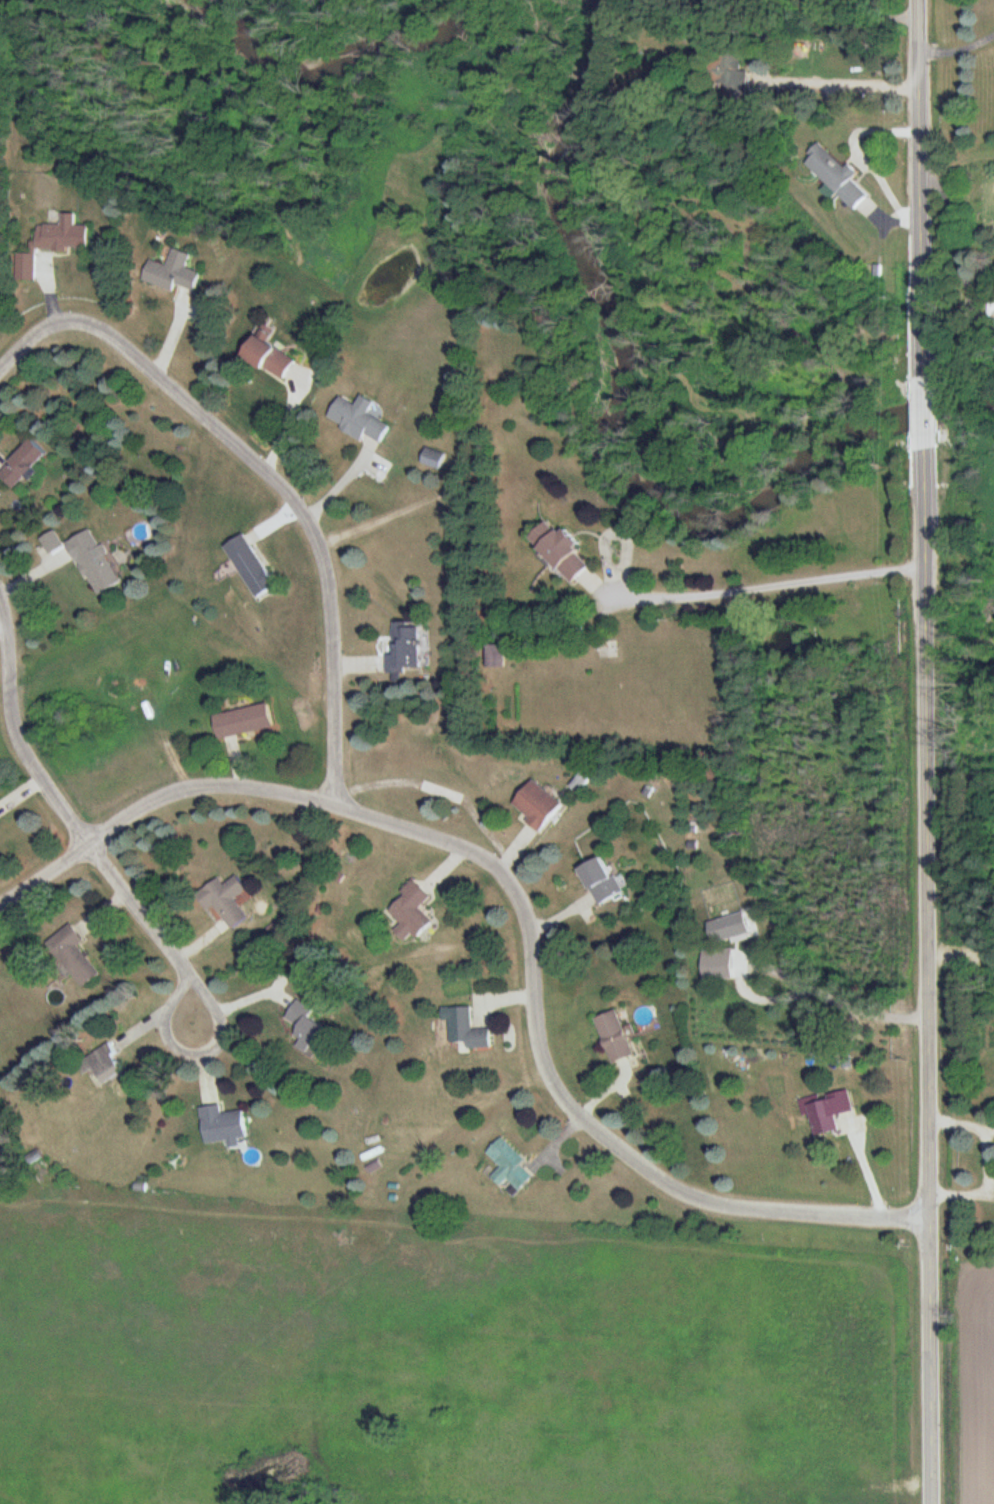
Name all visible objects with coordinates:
road: (957, 50)
building: (730, 74)
road: (835, 82)
road: (864, 157)
building: (836, 175)
building: (52, 244)
building: (171, 273)
building: (992, 311)
building: (267, 356)
building: (358, 418)
building: (433, 458)
building: (21, 464)
road: (270, 472)
building: (560, 552)
building: (93, 562)
building: (249, 566)
road: (765, 585)
building: (411, 646)
building: (496, 657)
building: (243, 719)
road: (923, 751)
road: (153, 800)
building: (537, 804)
road: (79, 827)
building: (599, 879)
building: (225, 899)
building: (410, 911)
building: (73, 954)
road: (818, 995)
building: (305, 1025)
building: (465, 1027)
building: (614, 1036)
building: (105, 1065)
road: (561, 1082)
building: (826, 1110)
building: (222, 1124)
building: (34, 1156)
building: (509, 1165)

